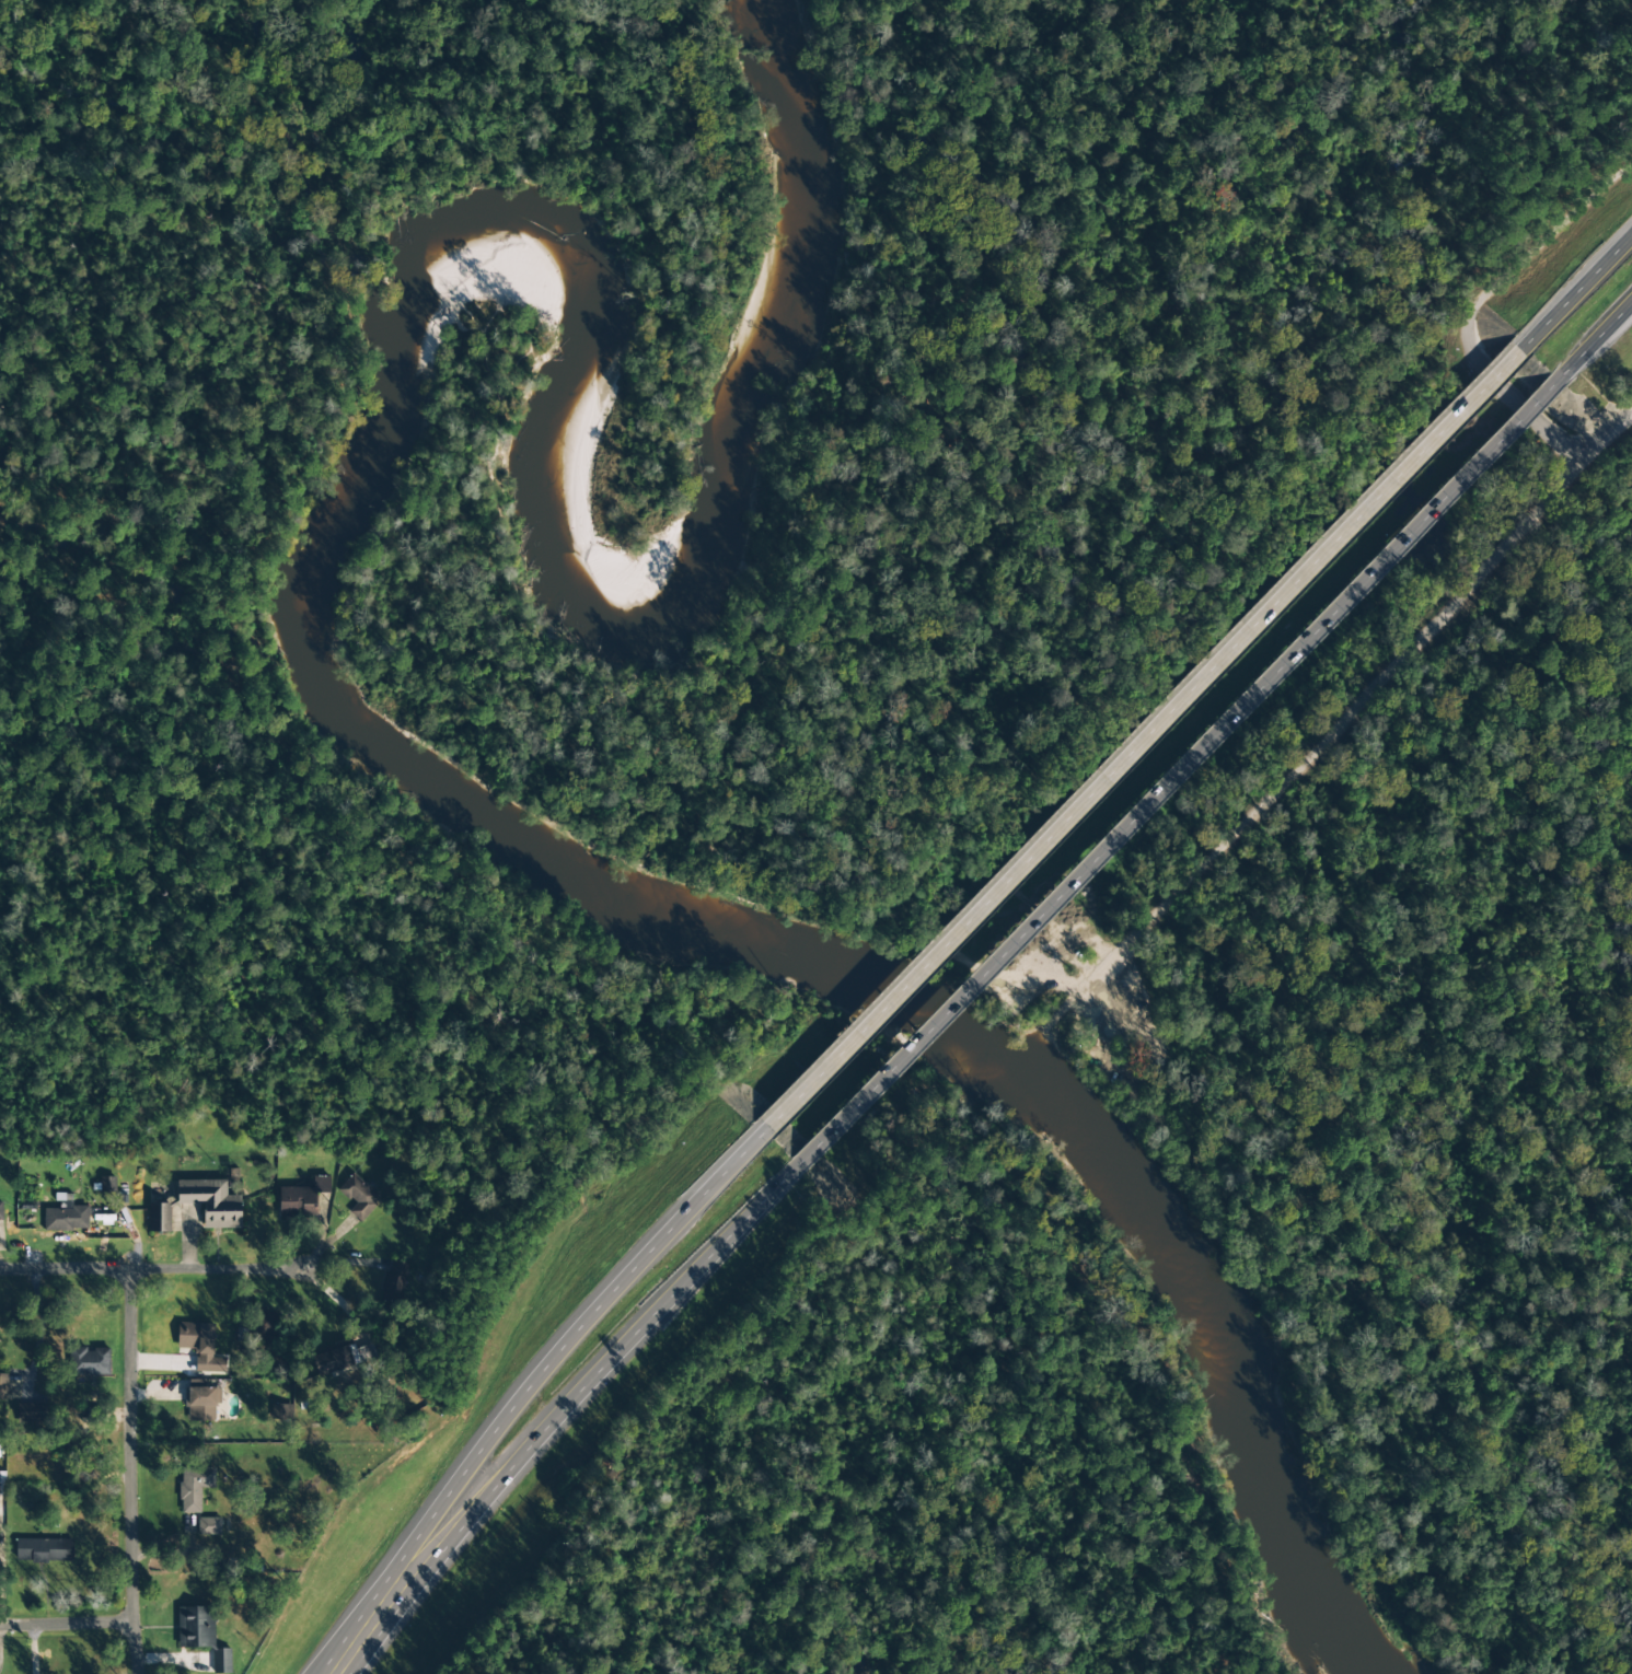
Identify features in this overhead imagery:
road: (1577, 292)
road: (1477, 303)
road: (1594, 340)
road: (1346, 726)
road: (1142, 743)
road: (1172, 777)
building: (106, 1184)
building: (358, 1197)
building: (301, 1198)
building: (211, 1202)
building: (0, 1213)
building: (66, 1216)
building: (159, 1218)
road: (151, 1272)
building: (265, 1328)
road: (571, 1334)
building: (200, 1346)
building: (343, 1359)
building: (89, 1362)
road: (604, 1368)
building: (2, 1386)
building: (200, 1402)
building: (281, 1411)
building: (31, 1413)
road: (130, 1474)
building: (2, 1484)
building: (194, 1488)
building: (208, 1526)
building: (44, 1550)
road: (375, 1615)
road: (66, 1626)
building: (195, 1627)
road: (28, 1651)
building: (221, 1661)

